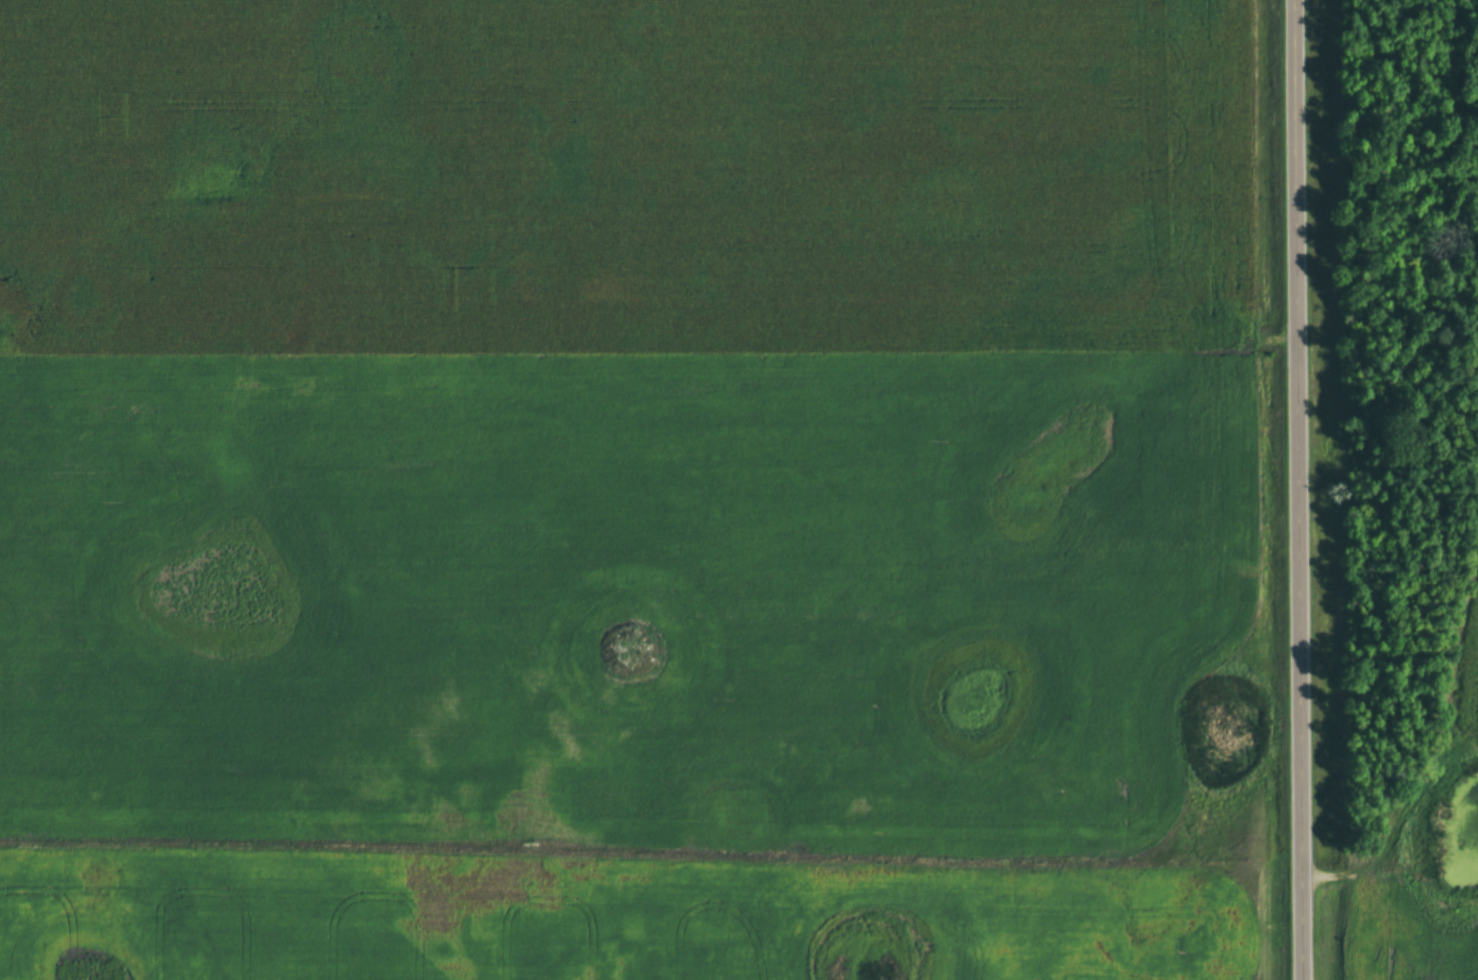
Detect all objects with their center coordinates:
road: (1260, 490)

